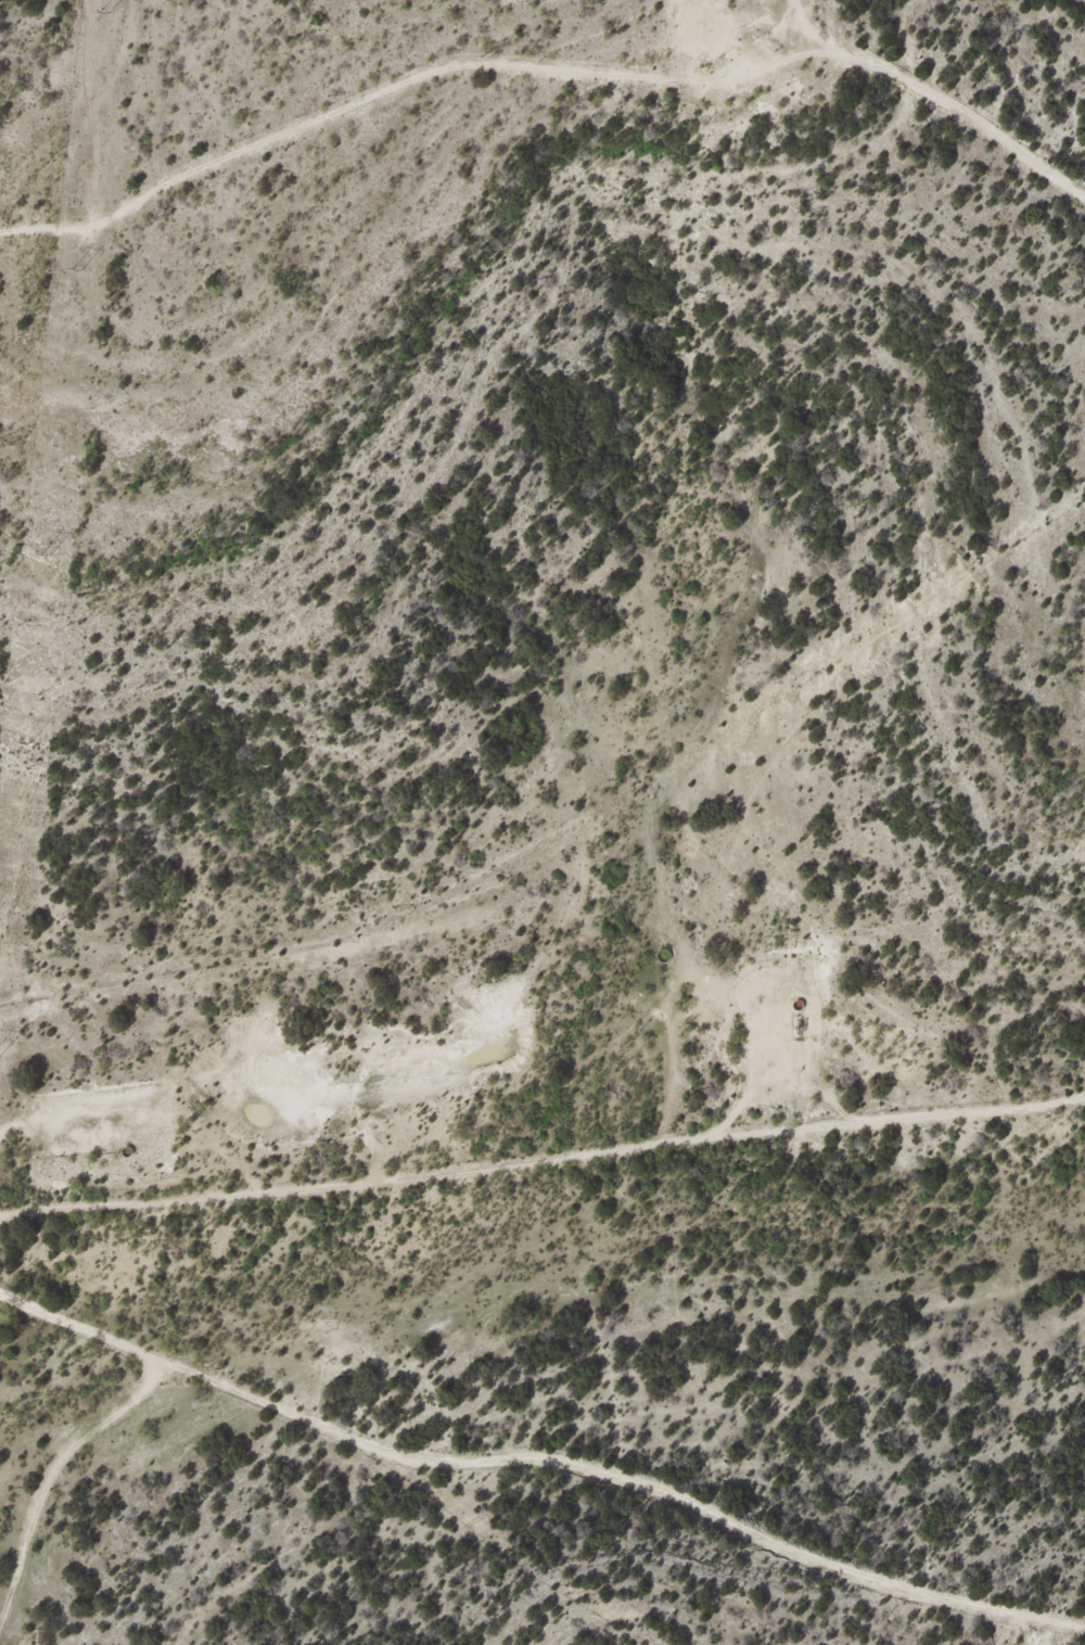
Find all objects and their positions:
power tower: (111, 11)
road: (988, 136)
power tower: (81, 268)
power tower: (51, 553)
power tower: (28, 743)
road: (545, 1111)
road: (544, 1436)

